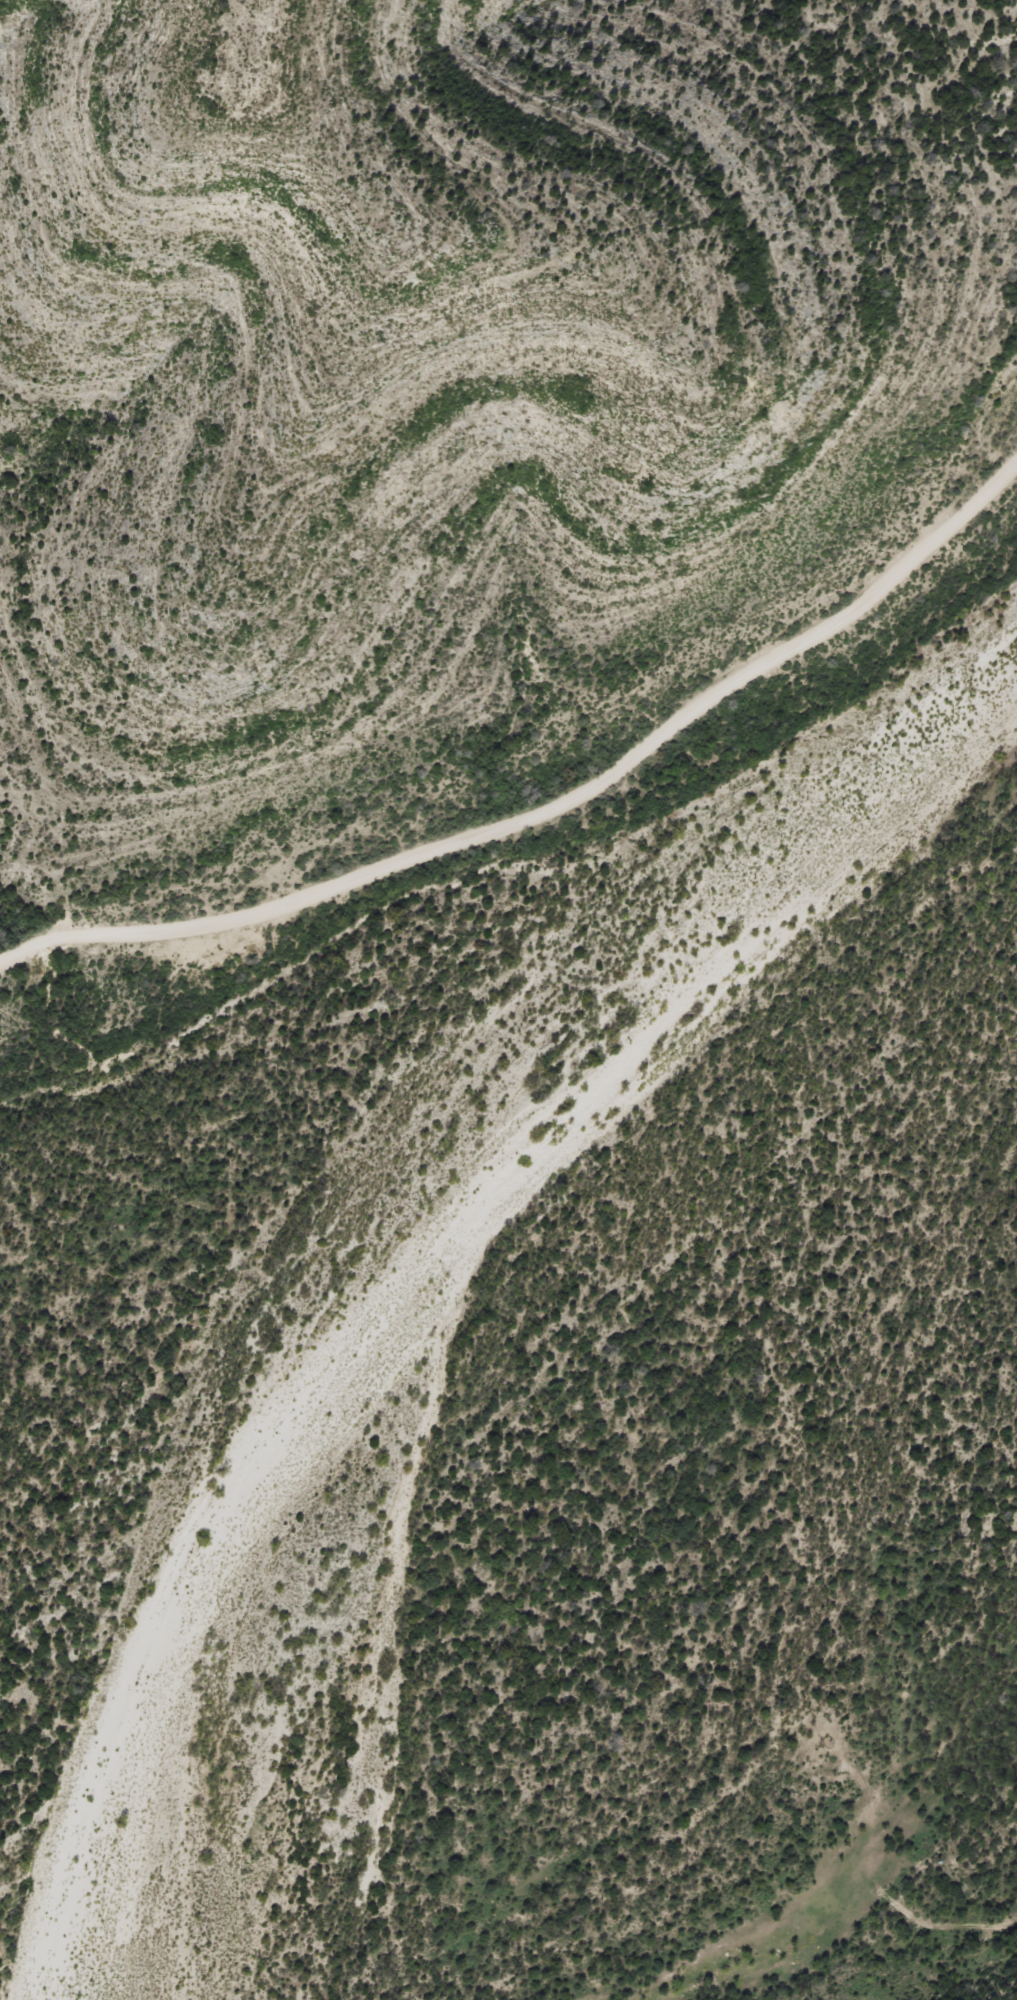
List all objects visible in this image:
road: (556, 811)
river: (387, 1225)

